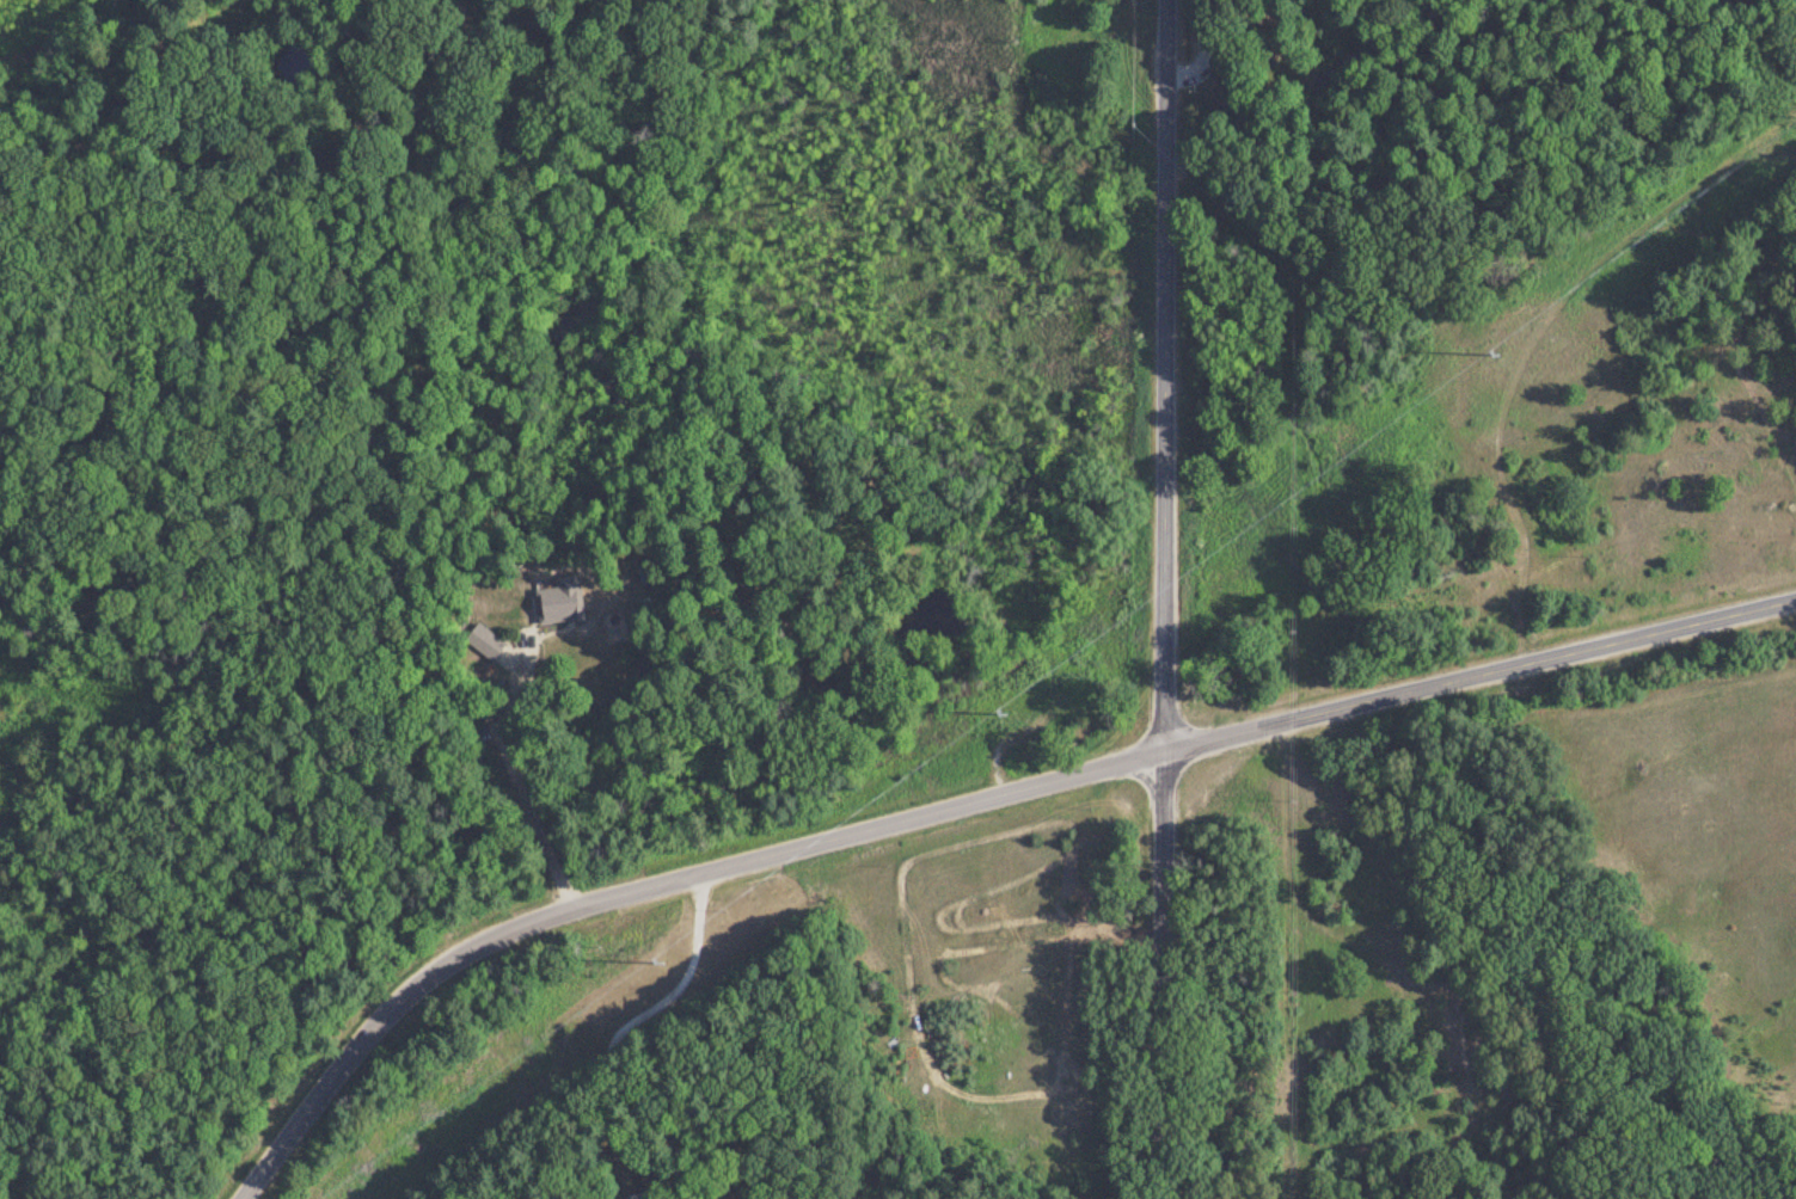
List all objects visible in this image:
power tower: (1495, 355)
road: (1156, 598)
power tower: (1010, 712)
road: (508, 751)
road: (960, 803)
power tower: (661, 961)
road: (619, 1033)

